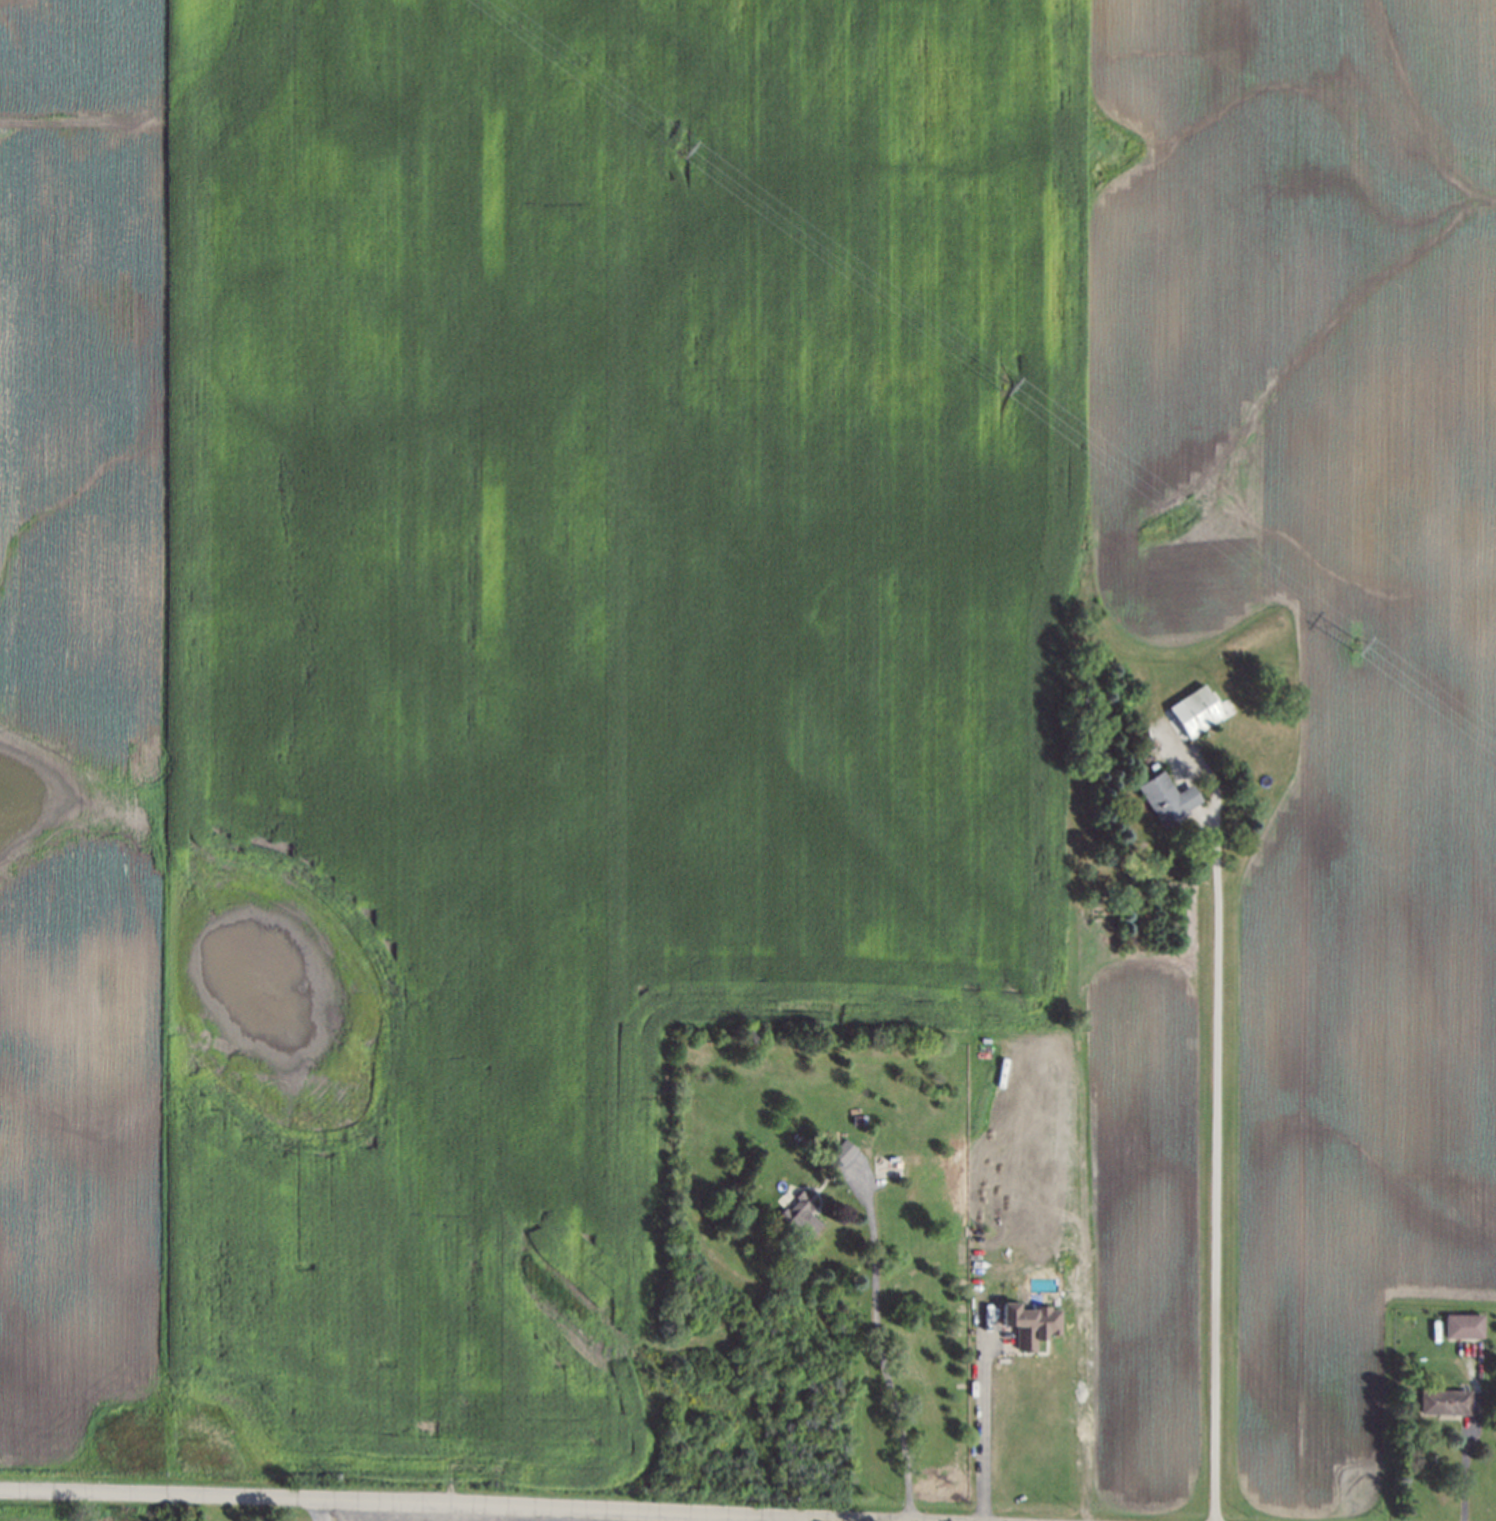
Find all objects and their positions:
crop: (1324, 634)
building: (1194, 712)
building: (1166, 800)
building: (853, 1121)
building: (838, 1148)
road: (1214, 1159)
building: (796, 1215)
building: (1029, 1324)
building: (1462, 1327)
road: (876, 1348)
building: (1442, 1403)
road: (981, 1426)
road: (1465, 1446)
road: (453, 1504)
road: (314, 1511)
road: (370, 1511)
park: (332, 1515)
road: (580, 1515)
parking lot: (436, 1516)
road: (712, 1517)

